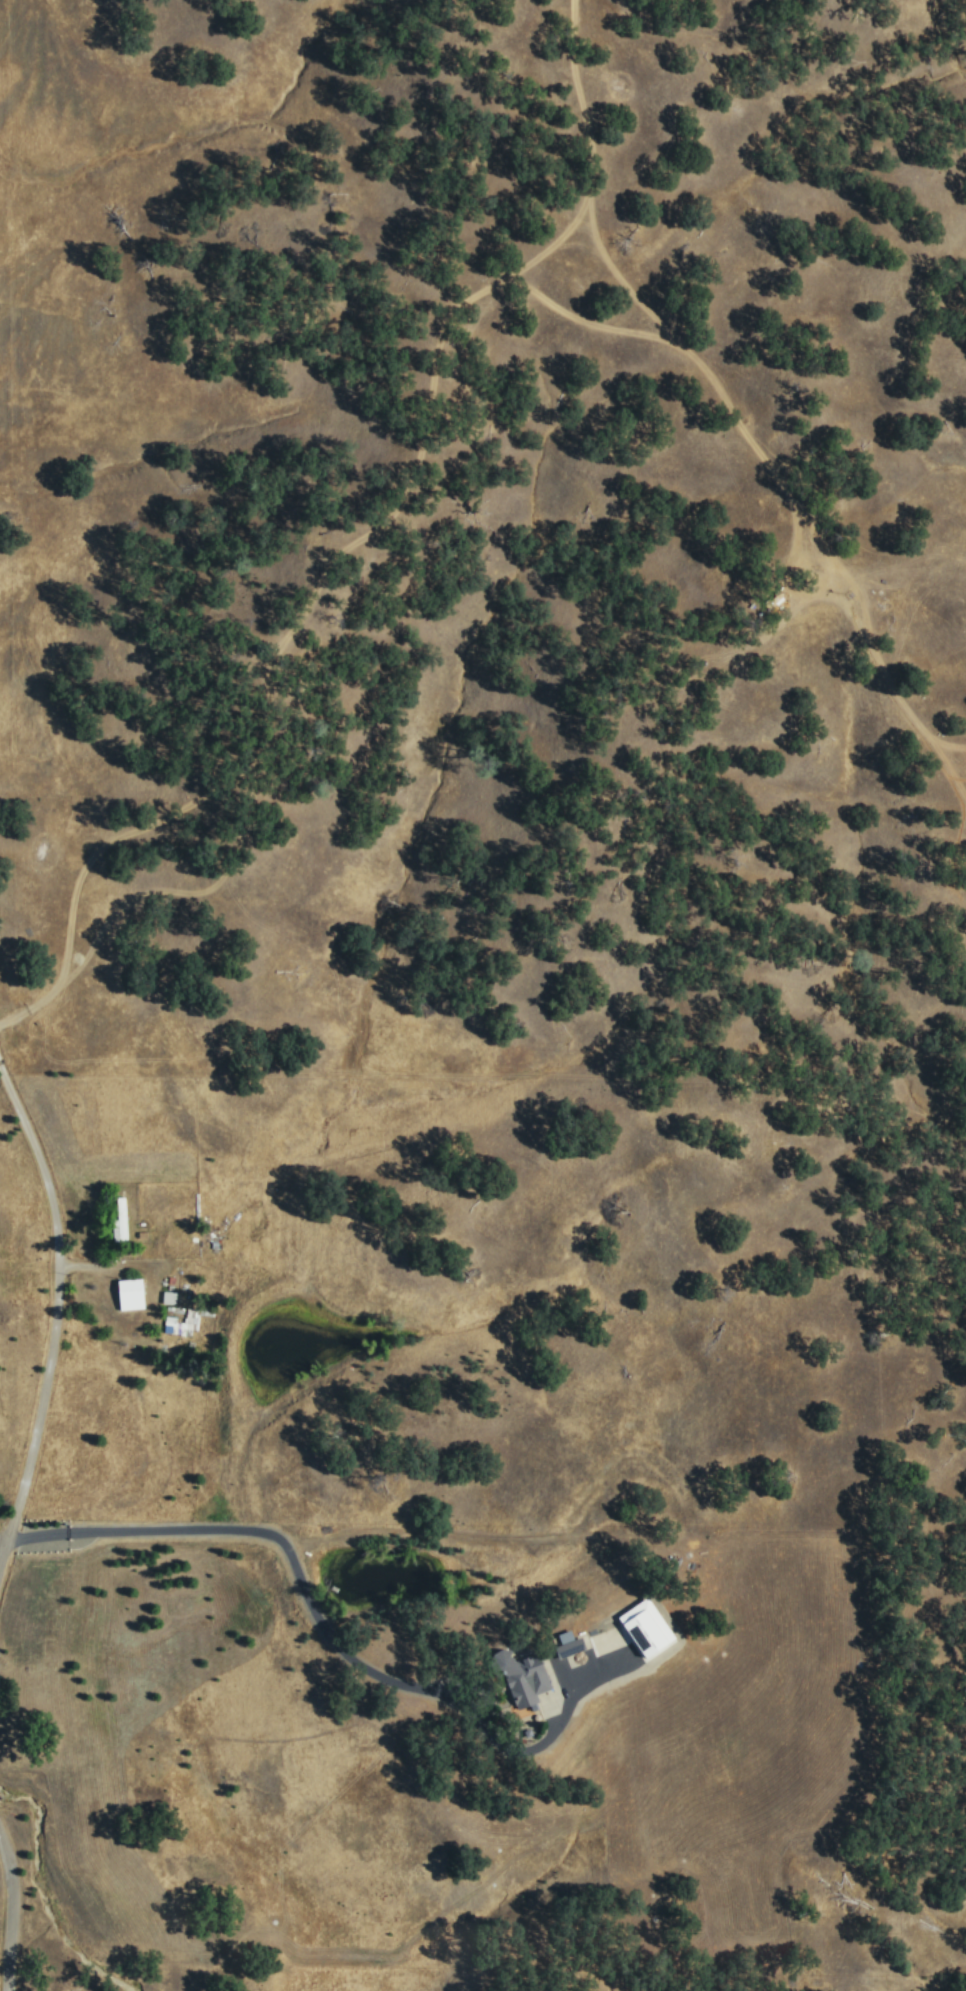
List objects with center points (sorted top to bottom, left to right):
road: (548, 247)
road: (727, 409)
road: (304, 586)
road: (181, 893)
building: (130, 1293)
road: (55, 1306)
building: (180, 1323)
road: (266, 1531)
building: (641, 1626)
building: (565, 1643)
building: (592, 1656)
building: (523, 1683)
road: (8, 1909)

